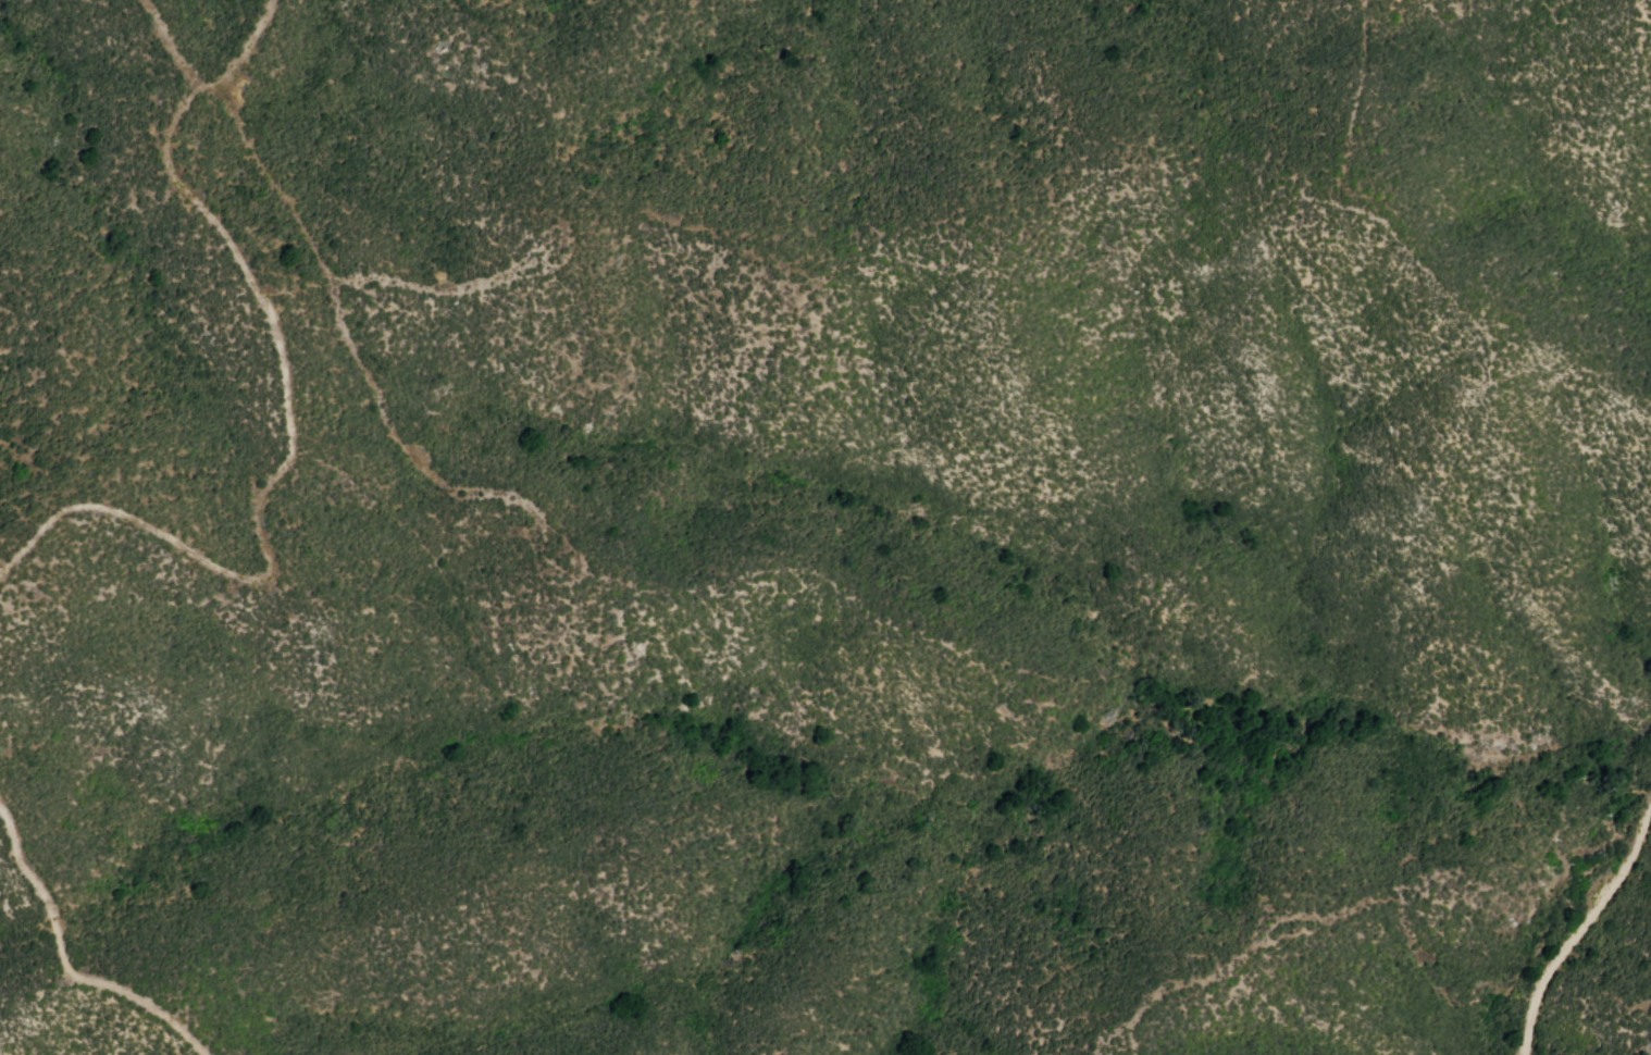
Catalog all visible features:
road: (1579, 931)

